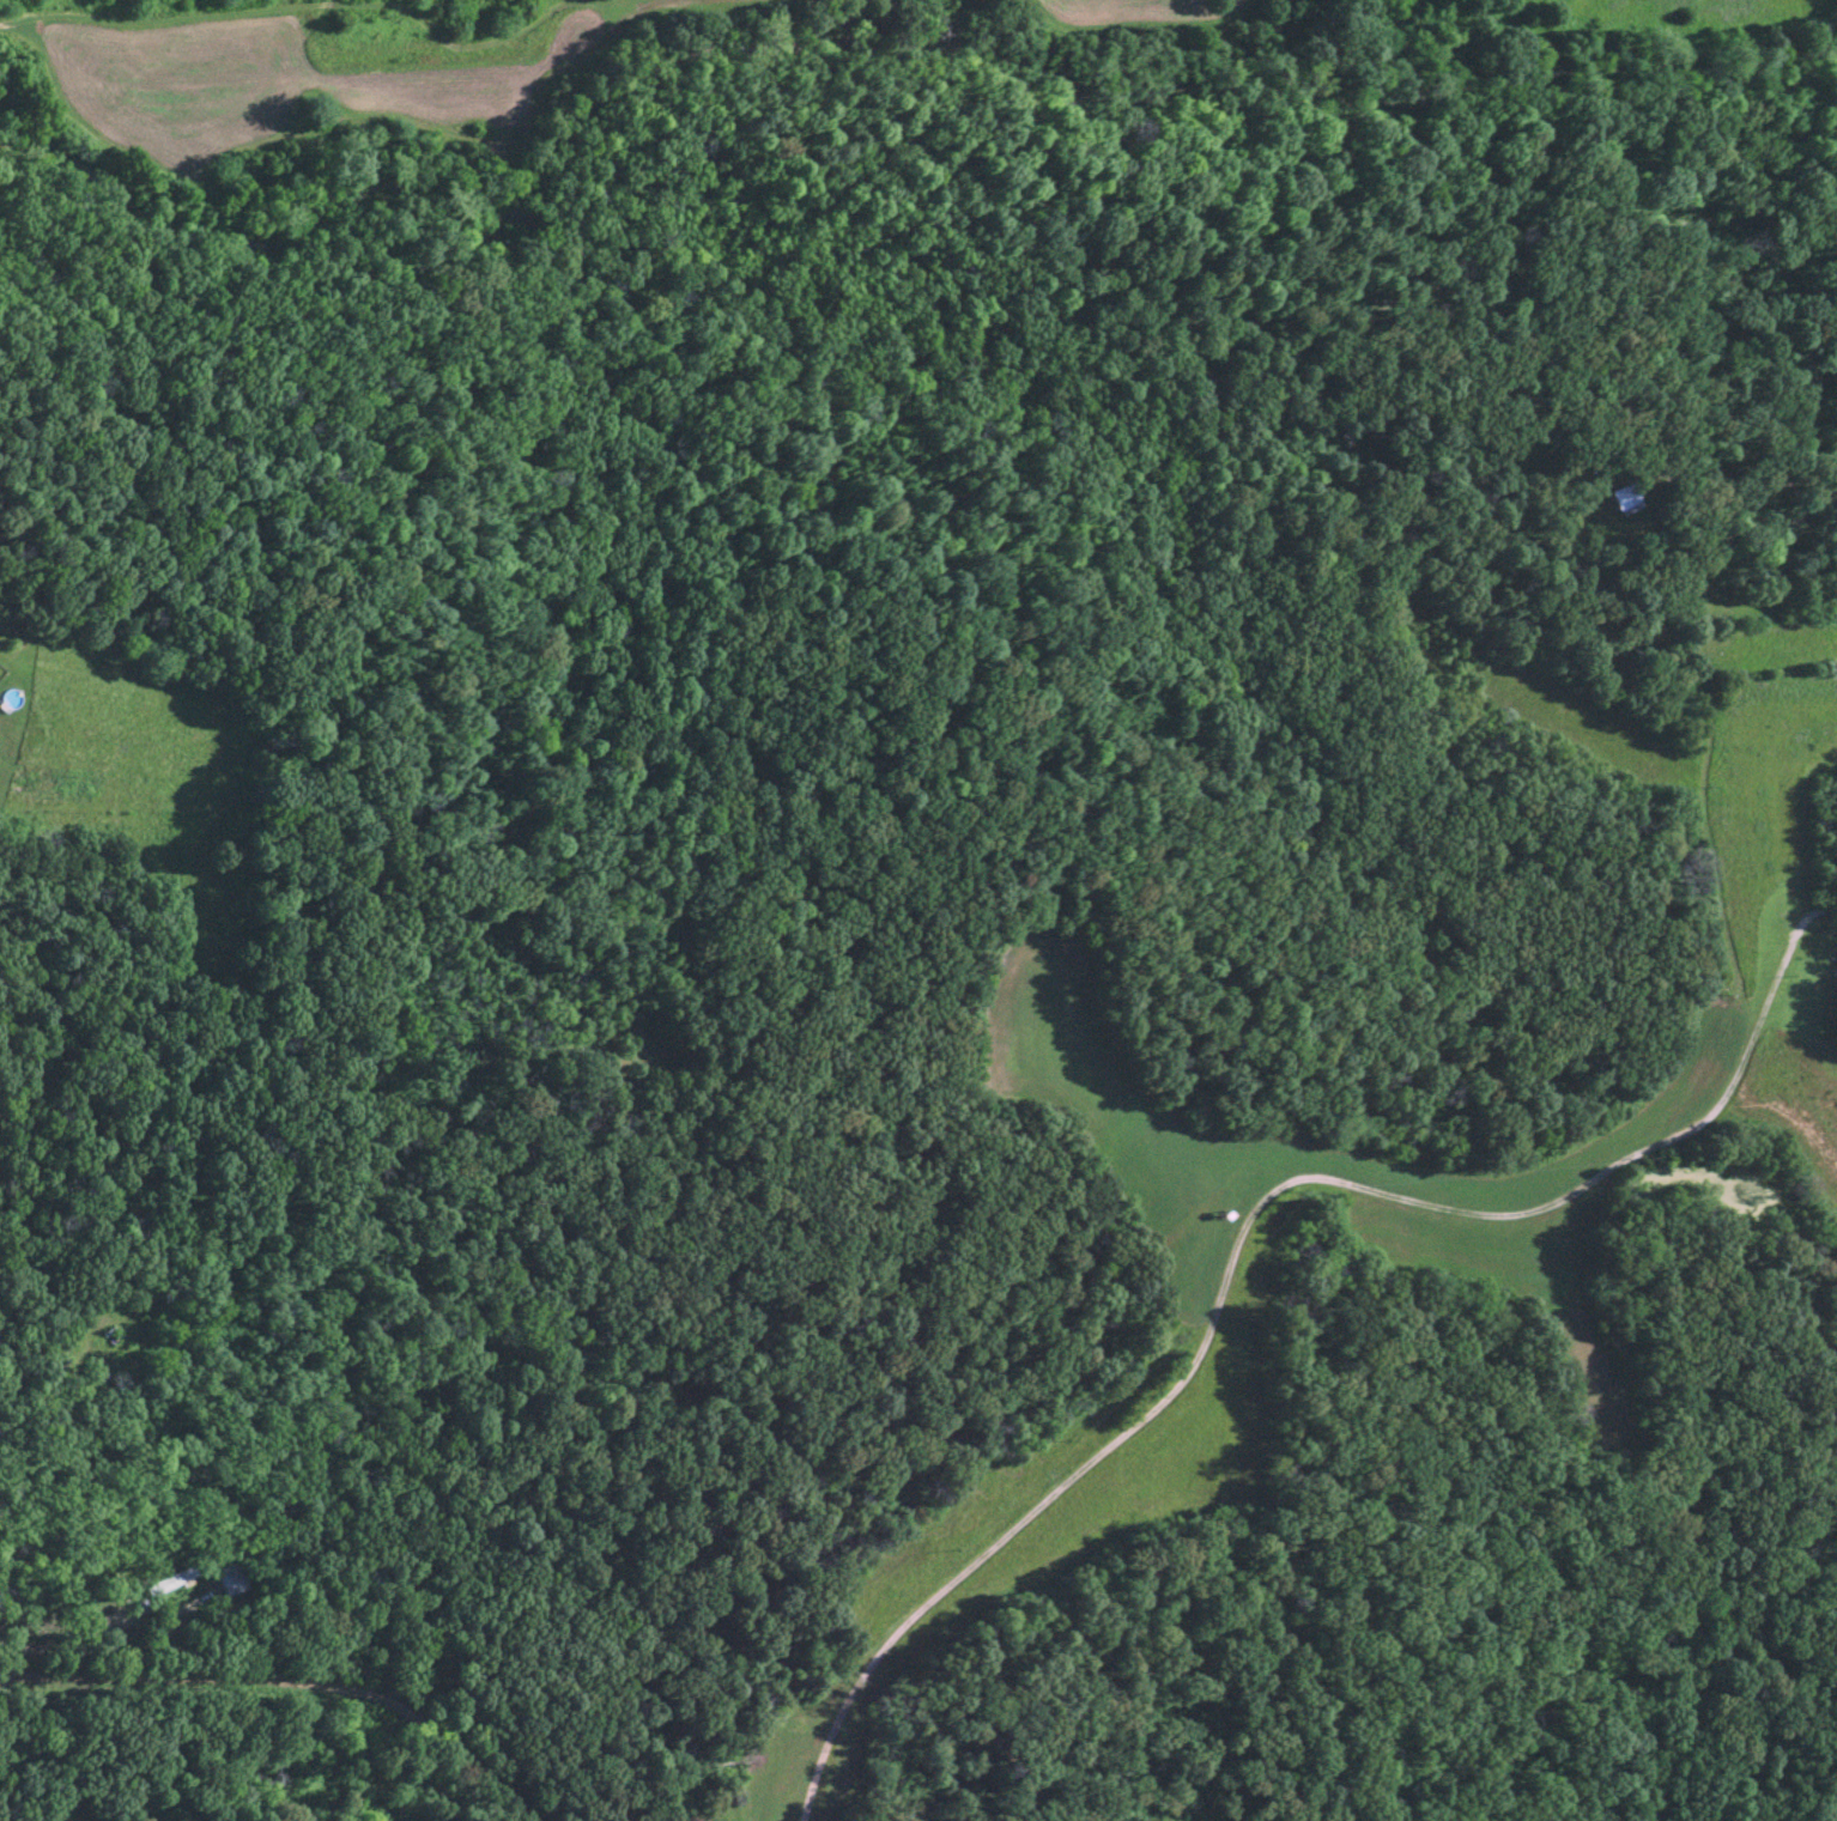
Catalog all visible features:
road: (1247, 1220)
building: (230, 1578)
building: (169, 1580)
road: (285, 1689)

